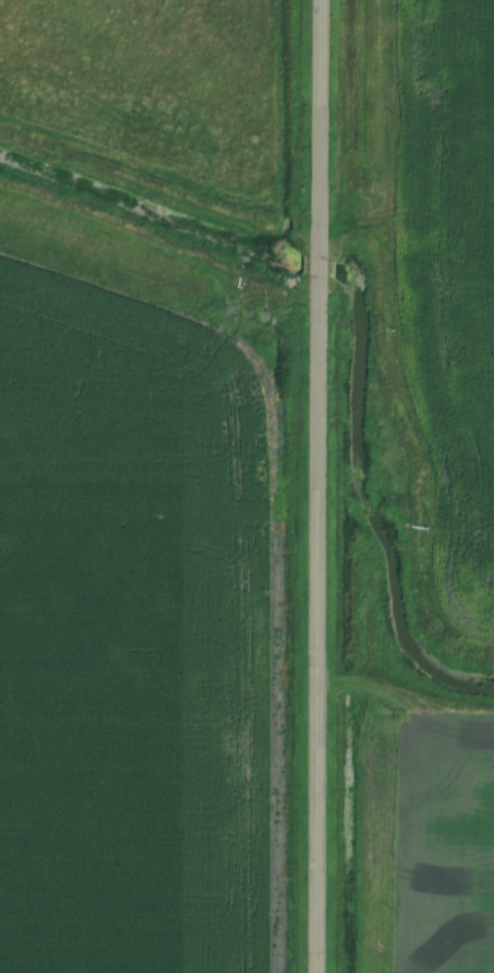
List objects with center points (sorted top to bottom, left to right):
river: (317, 250)
road: (316, 486)

